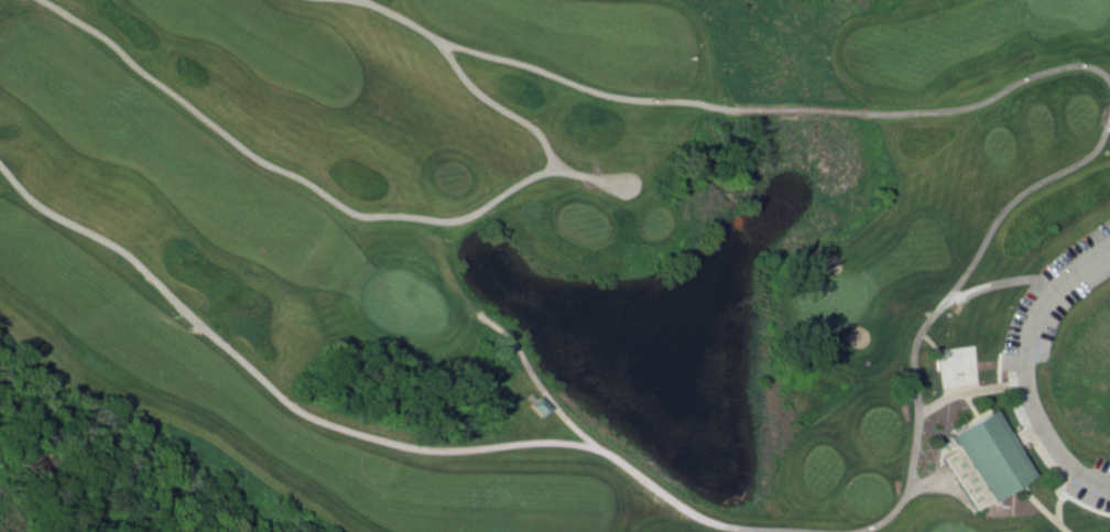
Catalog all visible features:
road: (355, 1)
road: (545, 75)
road: (995, 97)
road: (499, 110)
road: (803, 111)
road: (313, 187)
park: (569, 258)
road: (986, 287)
parking lot: (1052, 300)
road: (944, 303)
road: (1031, 323)
road: (991, 324)
road: (541, 386)
road: (964, 393)
building: (542, 409)
road: (349, 431)
building: (992, 457)
road: (1019, 463)
road: (1070, 465)
parking lot: (1092, 487)
road: (1078, 504)

